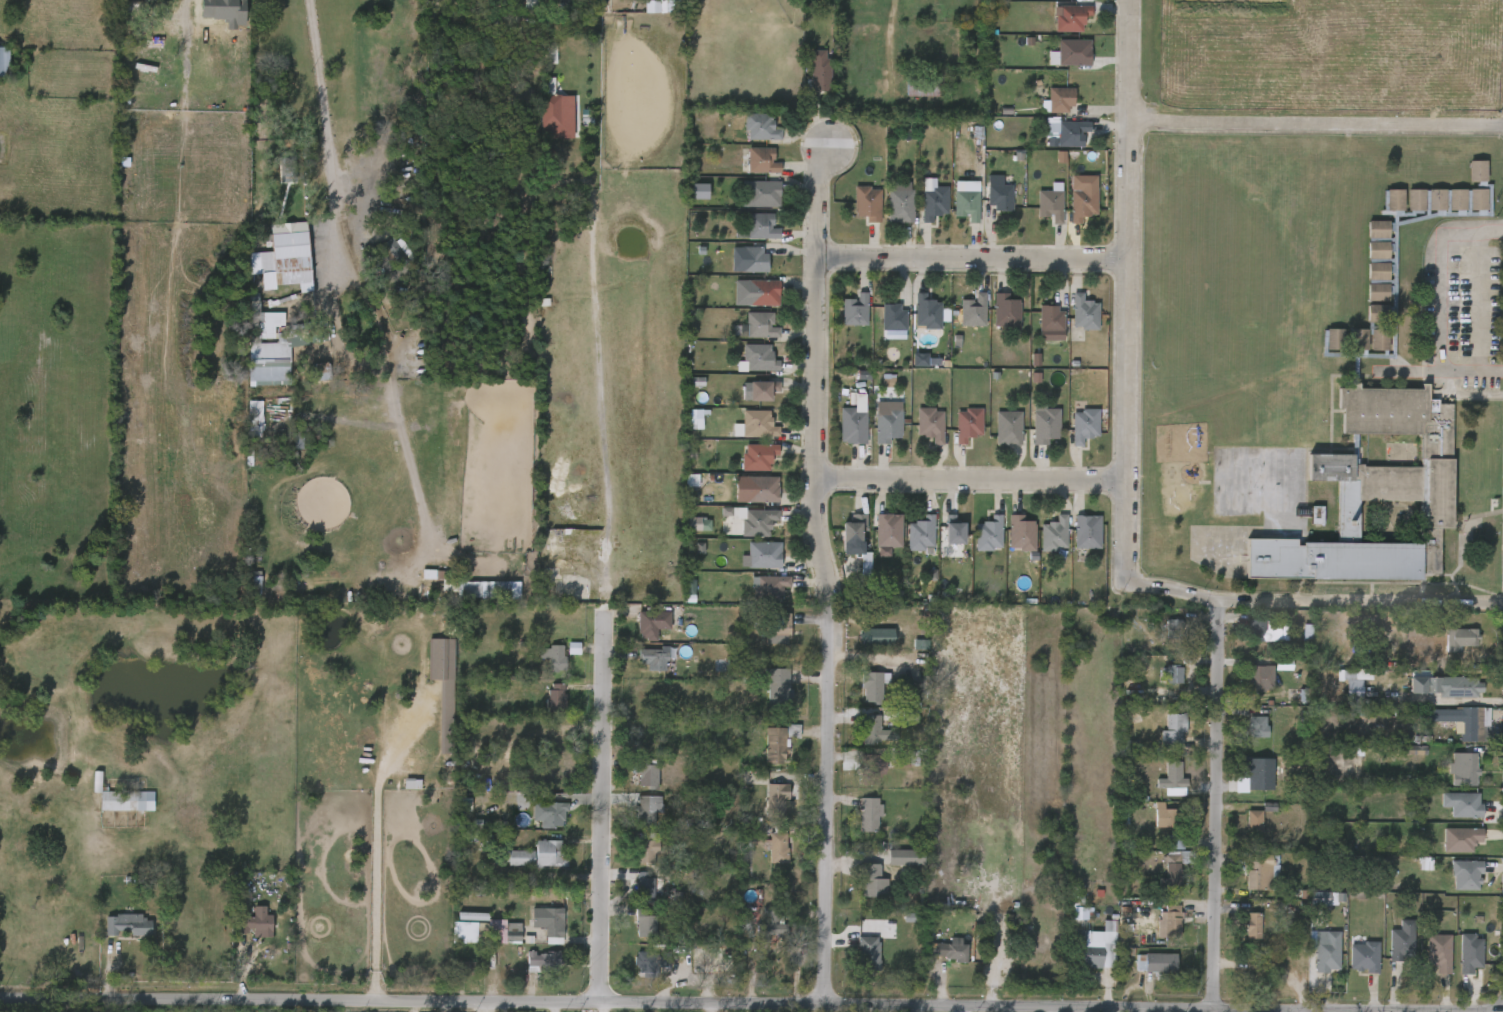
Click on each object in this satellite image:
building: (737, 1)
building: (1052, 3)
building: (518, 8)
building: (1073, 18)
building: (1058, 27)
building: (150, 48)
building: (1075, 53)
building: (1061, 62)
building: (4, 64)
building: (821, 70)
road: (318, 75)
building: (806, 81)
building: (926, 87)
building: (909, 99)
building: (1062, 100)
building: (1047, 110)
building: (538, 117)
building: (762, 125)
road: (1314, 127)
building: (1070, 133)
building: (748, 137)
building: (1052, 143)
building: (760, 160)
building: (749, 171)
building: (1464, 181)
building: (759, 193)
building: (999, 196)
building: (869, 202)
building: (935, 202)
building: (985, 203)
building: (1085, 203)
building: (748, 204)
building: (965, 204)
building: (1052, 204)
building: (902, 205)
building: (1070, 207)
building: (953, 210)
building: (1380, 210)
building: (887, 212)
building: (855, 213)
building: (921, 213)
building: (1037, 215)
building: (760, 226)
building: (745, 237)
building: (1364, 239)
building: (752, 259)
road: (972, 260)
building: (1364, 260)
building: (382, 262)
building: (275, 269)
building: (736, 269)
building: (1364, 281)
road: (1127, 290)
building: (763, 291)
road: (1479, 298)
road: (1440, 299)
building: (749, 302)
building: (1364, 302)
building: (854, 310)
building: (972, 310)
building: (928, 312)
building: (1084, 312)
building: (1006, 313)
building: (892, 317)
building: (1049, 318)
building: (842, 320)
building: (960, 321)
building: (914, 322)
building: (993, 322)
building: (1071, 323)
building: (762, 324)
building: (1038, 333)
building: (310, 334)
building: (746, 335)
building: (1321, 349)
building: (761, 357)
road: (387, 361)
building: (262, 368)
building: (746, 368)
road: (1413, 368)
building: (308, 381)
building: (760, 390)
building: (684, 391)
building: (750, 400)
road: (607, 404)
building: (853, 421)
building: (757, 423)
building: (1044, 423)
building: (932, 424)
building: (968, 424)
building: (887, 425)
building: (1087, 425)
building: (1008, 428)
building: (841, 431)
building: (1384, 433)
building: (743, 434)
building: (917, 434)
building: (955, 434)
building: (1032, 435)
building: (1071, 435)
building: (995, 438)
building: (757, 456)
building: (746, 466)
road: (969, 481)
building: (757, 489)
building: (679, 490)
building: (744, 499)
building: (757, 522)
building: (695, 523)
building: (851, 529)
building: (887, 530)
building: (951, 531)
building: (745, 532)
building: (1086, 532)
building: (685, 534)
building: (920, 534)
building: (988, 534)
building: (1023, 534)
building: (1053, 534)
building: (941, 541)
building: (1074, 541)
building: (875, 543)
building: (908, 543)
building: (1008, 543)
building: (841, 544)
building: (976, 544)
building: (1041, 544)
building: (762, 553)
building: (749, 565)
building: (852, 573)
road: (824, 582)
building: (768, 587)
building: (756, 597)
building: (472, 599)
road: (1312, 601)
building: (651, 623)
building: (779, 629)
building: (1266, 629)
building: (639, 634)
building: (875, 637)
building: (764, 639)
building: (1254, 640)
building: (1457, 641)
building: (1294, 642)
building: (864, 646)
building: (1447, 649)
building: (555, 657)
building: (651, 658)
building: (541, 667)
building: (641, 668)
building: (1260, 674)
building: (1160, 684)
building: (776, 686)
building: (873, 686)
building: (1248, 687)
building: (1466, 687)
building: (764, 694)
building: (1339, 694)
building: (430, 696)
building: (861, 696)
building: (1434, 696)
building: (556, 698)
building: (543, 706)
building: (1256, 721)
building: (1467, 722)
building: (872, 730)
building: (1175, 731)
building: (1451, 731)
building: (1244, 736)
building: (864, 741)
building: (1160, 741)
building: (782, 742)
building: (1413, 747)
building: (766, 752)
building: (905, 758)
building: (872, 766)
building: (1464, 768)
building: (647, 773)
building: (1257, 773)
building: (860, 777)
building: (1172, 778)
building: (1450, 779)
building: (635, 783)
building: (1245, 783)
building: (1160, 790)
building: (120, 796)
building: (777, 800)
road: (1224, 804)
building: (1462, 804)
building: (643, 808)
building: (763, 809)
building: (114, 810)
road: (605, 811)
building: (550, 812)
building: (868, 813)
building: (1449, 814)
building: (1167, 816)
building: (635, 820)
building: (1253, 821)
building: (856, 823)
building: (536, 824)
building: (1150, 825)
building: (1241, 830)
building: (1460, 838)
building: (775, 844)
building: (645, 847)
building: (1448, 849)
road: (376, 852)
building: (1161, 852)
building: (548, 853)
building: (519, 857)
building: (764, 857)
building: (635, 861)
building: (537, 863)
building: (508, 867)
building: (892, 867)
building: (1176, 868)
building: (1255, 871)
building: (1412, 873)
building: (1466, 874)
building: (869, 875)
building: (1161, 877)
building: (1246, 882)
building: (1453, 884)
building: (643, 887)
building: (860, 891)
building: (631, 895)
building: (1310, 908)
building: (549, 920)
building: (1171, 921)
building: (255, 922)
building: (644, 924)
building: (770, 925)
building: (1252, 925)
building: (128, 926)
building: (1156, 931)
building: (632, 932)
building: (760, 932)
building: (244, 933)
building: (537, 933)
building: (115, 934)
building: (1240, 935)
building: (1402, 940)
building: (474, 941)
building: (1093, 949)
building: (952, 950)
building: (1389, 951)
building: (1438, 952)
building: (1470, 952)
building: (867, 953)
building: (1327, 953)
building: (1364, 957)
building: (936, 959)
building: (1313, 959)
building: (542, 961)
building: (1157, 961)
building: (651, 962)
building: (1426, 962)
building: (856, 963)
building: (1457, 963)
building: (1351, 966)
building: (531, 970)
building: (639, 971)
building: (1143, 972)
road: (699, 1005)
road: (484, 1007)
road: (597, 1007)
road: (1301, 1011)

